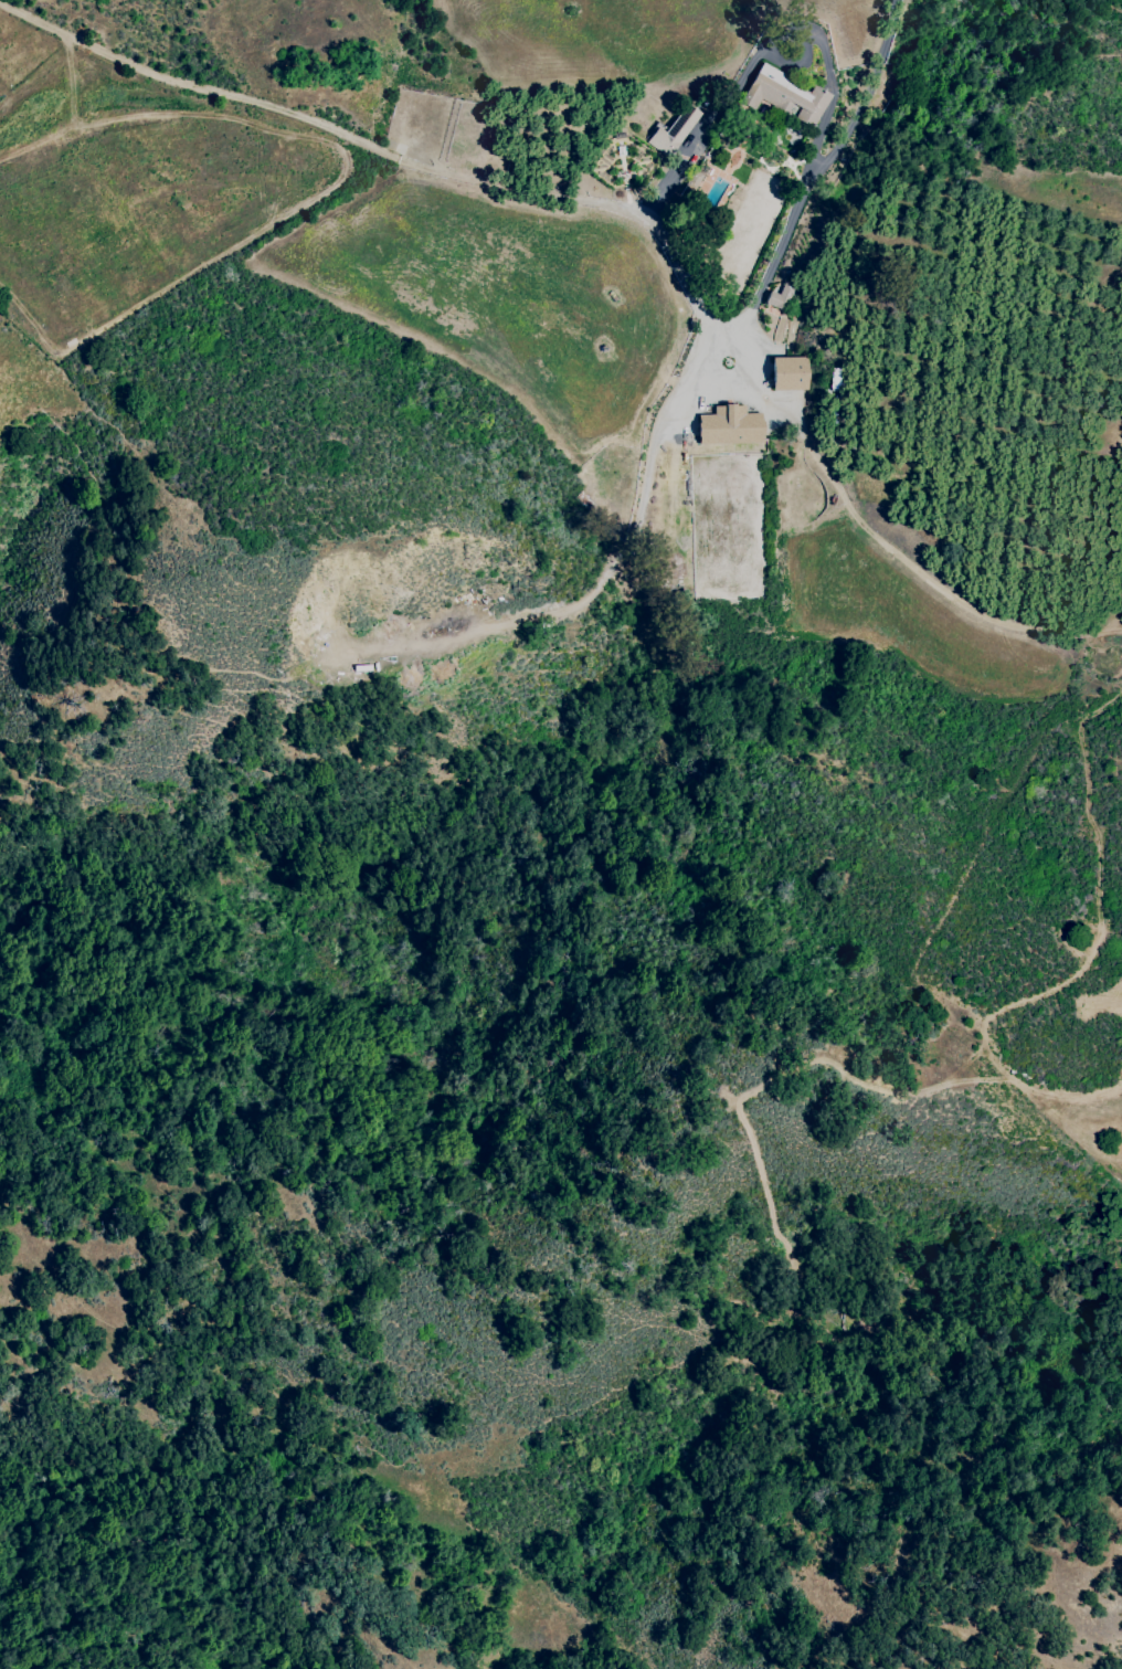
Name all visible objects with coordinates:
building: (779, 96)
building: (670, 131)
building: (687, 179)
road: (564, 199)
building: (779, 299)
building: (783, 374)
building: (724, 426)

